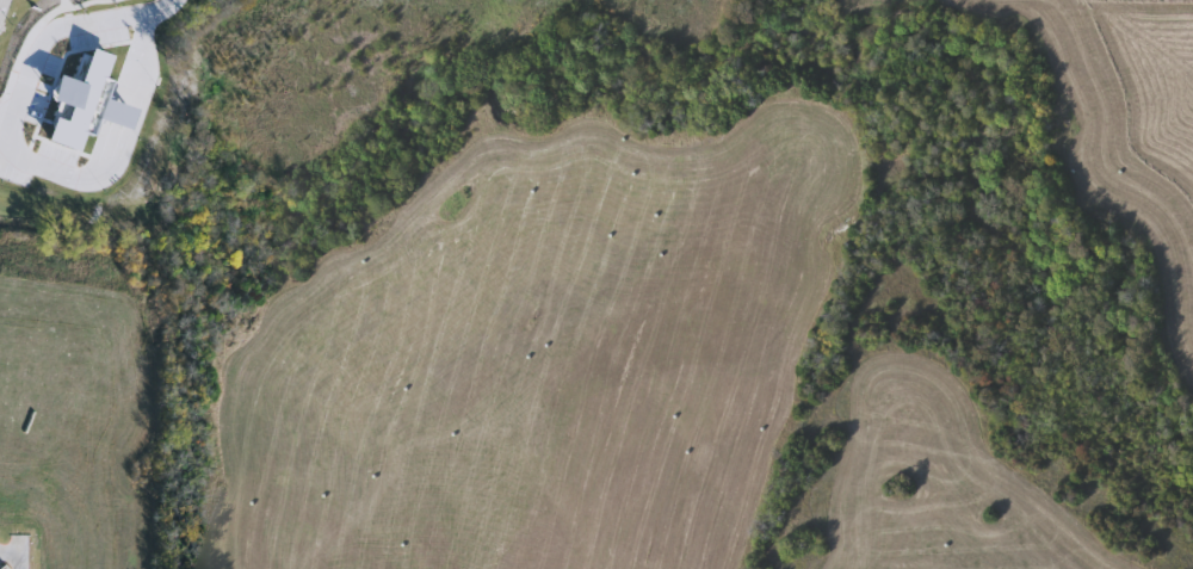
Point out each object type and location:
road: (67, 27)
building: (81, 94)
road: (13, 556)

